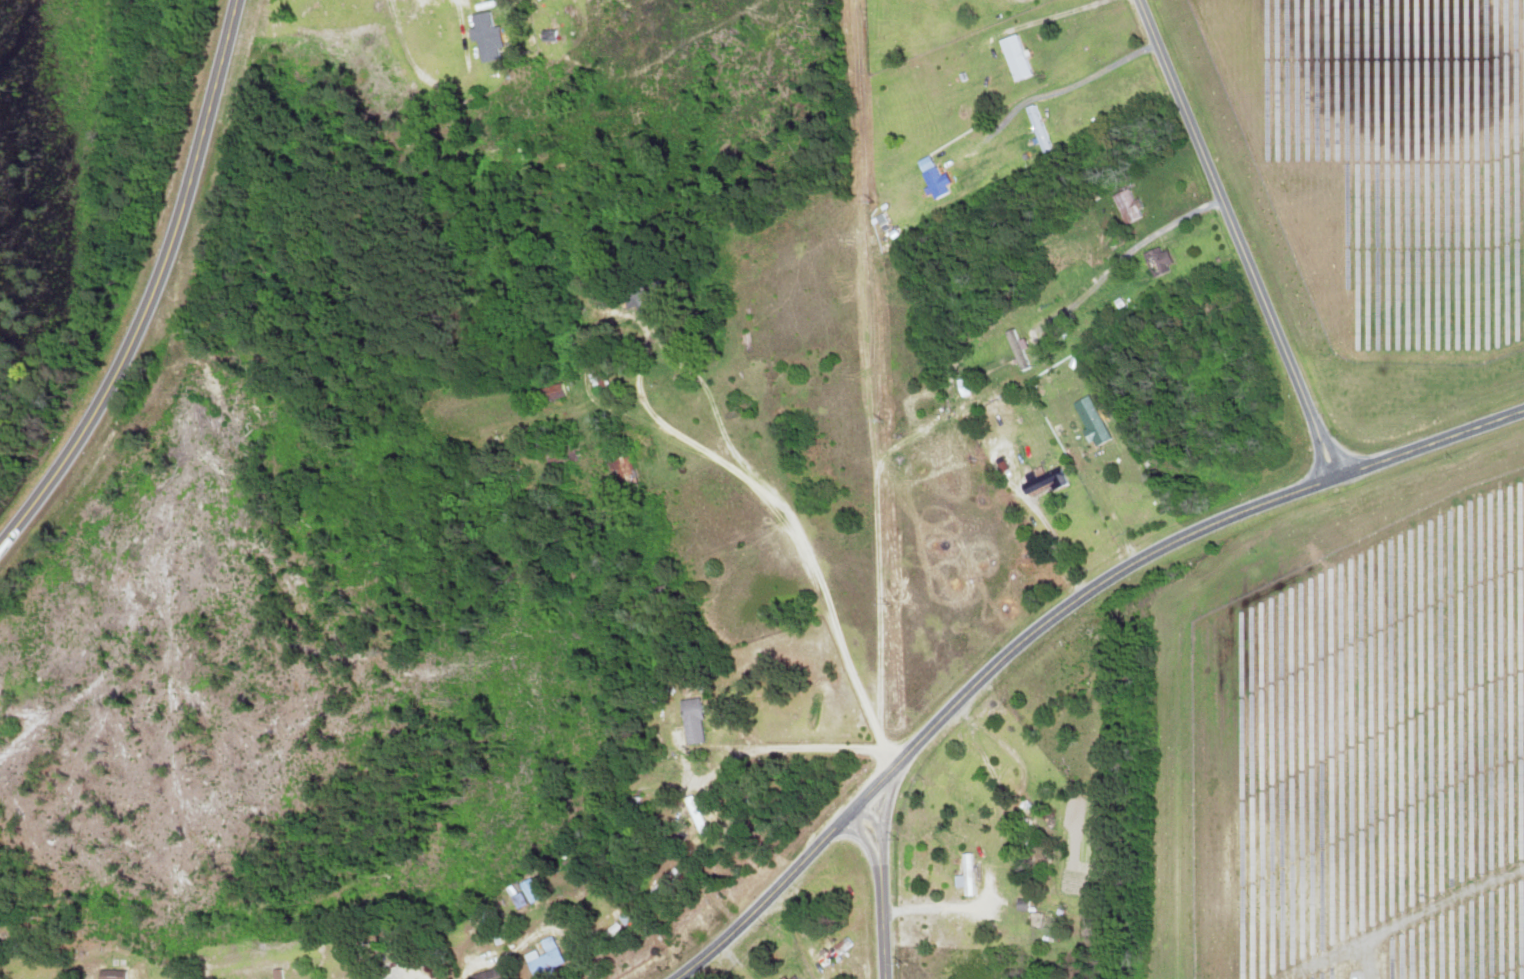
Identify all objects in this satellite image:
building: (484, 34)
building: (1013, 56)
building: (1036, 128)
building: (934, 181)
building: (1125, 205)
road: (1238, 238)
building: (1155, 260)
road: (155, 290)
building: (638, 294)
road: (175, 307)
building: (1015, 349)
building: (594, 379)
building: (1088, 420)
road: (126, 427)
building: (619, 471)
building: (1043, 480)
road: (1049, 618)
building: (1070, 695)
building: (689, 721)
building: (998, 783)
building: (964, 875)
building: (663, 880)
road: (882, 886)
building: (528, 891)
building: (834, 951)
building: (541, 958)
building: (111, 974)
building: (484, 975)
building: (790, 977)

